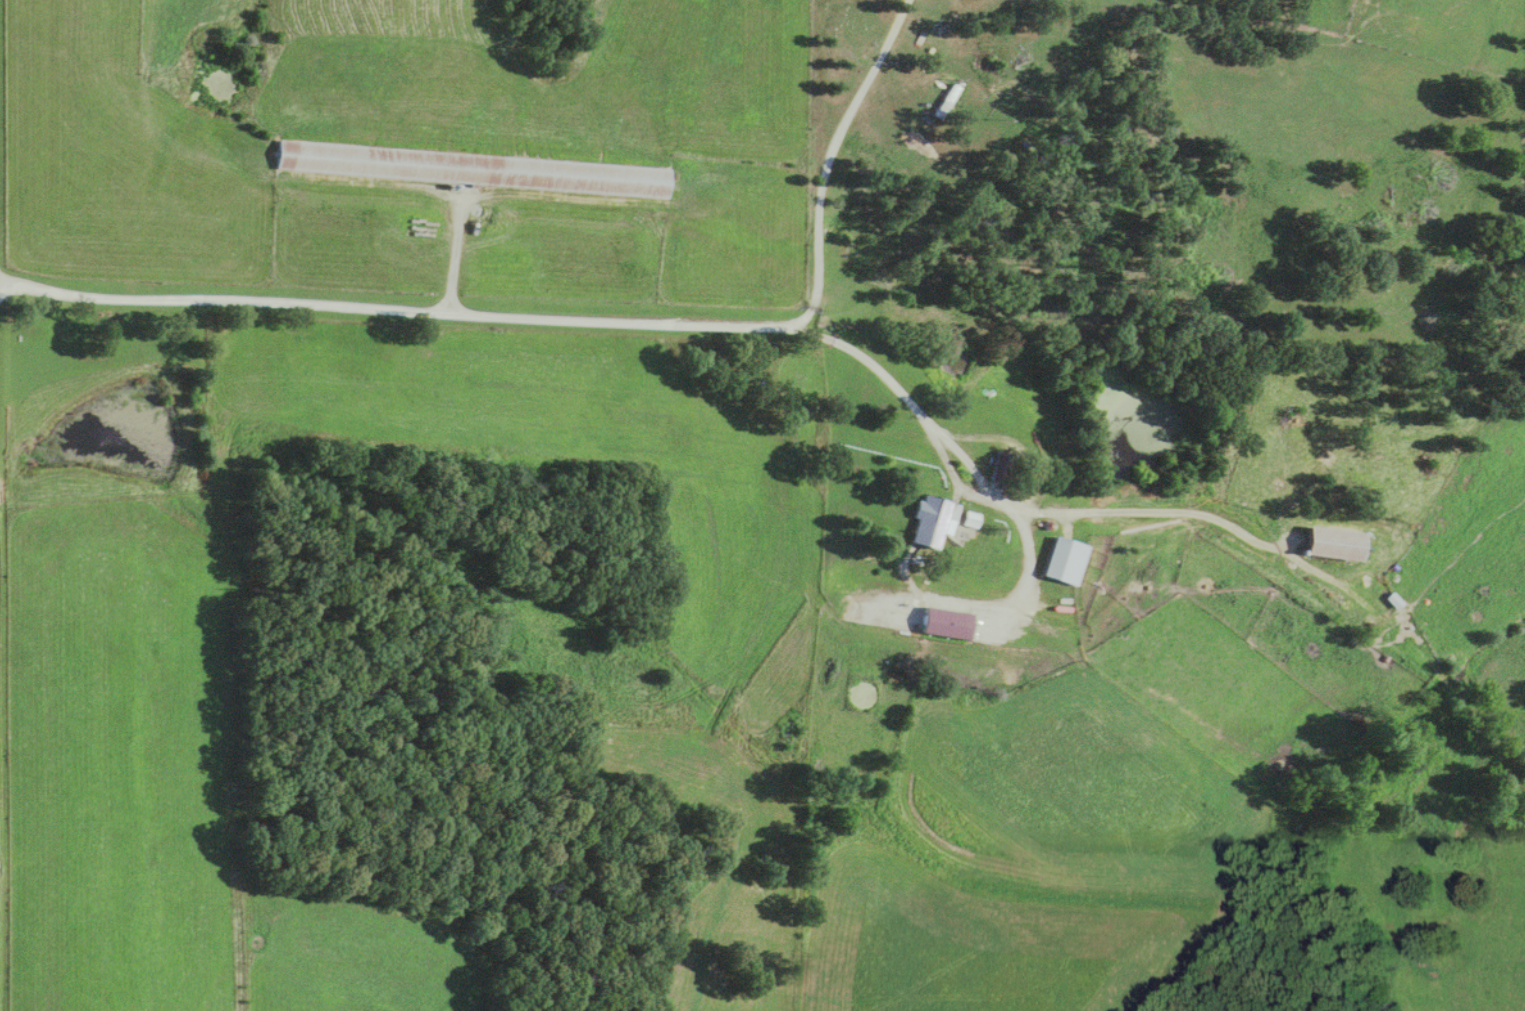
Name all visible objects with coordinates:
building: (471, 170)
road: (455, 255)
road: (574, 320)
building: (1007, 469)
road: (989, 490)
building: (968, 521)
building: (930, 522)
building: (1331, 545)
building: (1062, 562)
building: (902, 616)

